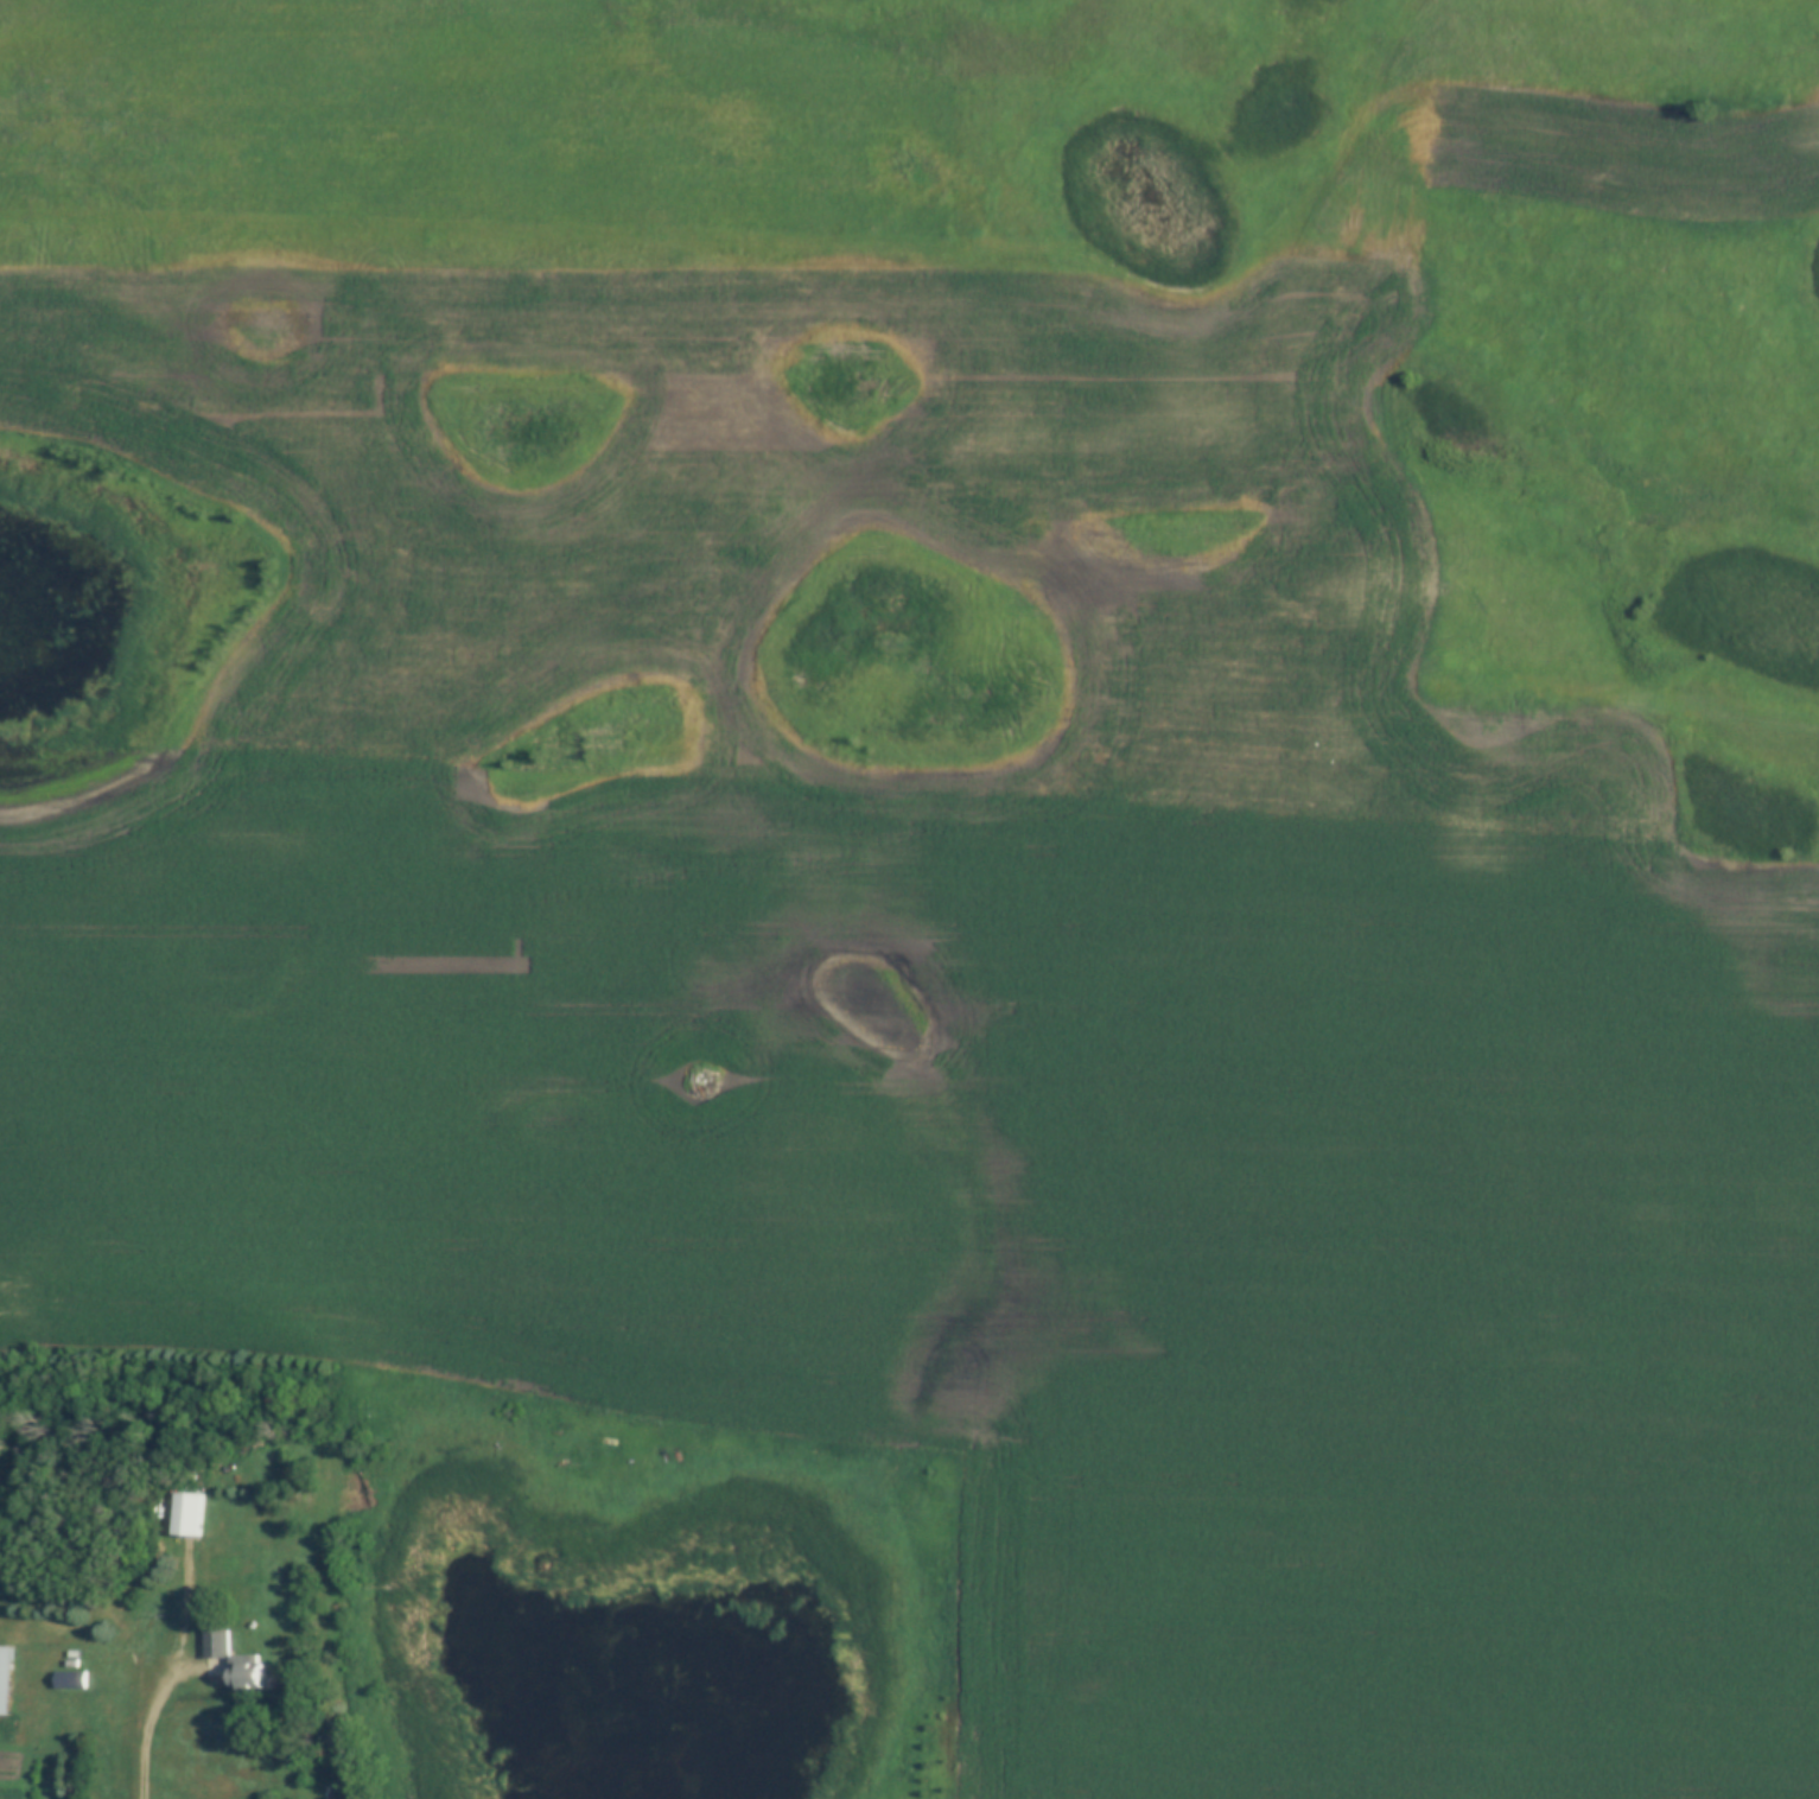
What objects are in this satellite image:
building: (186, 1512)
building: (230, 1659)
road: (172, 1670)
building: (70, 1674)
building: (6, 1679)

